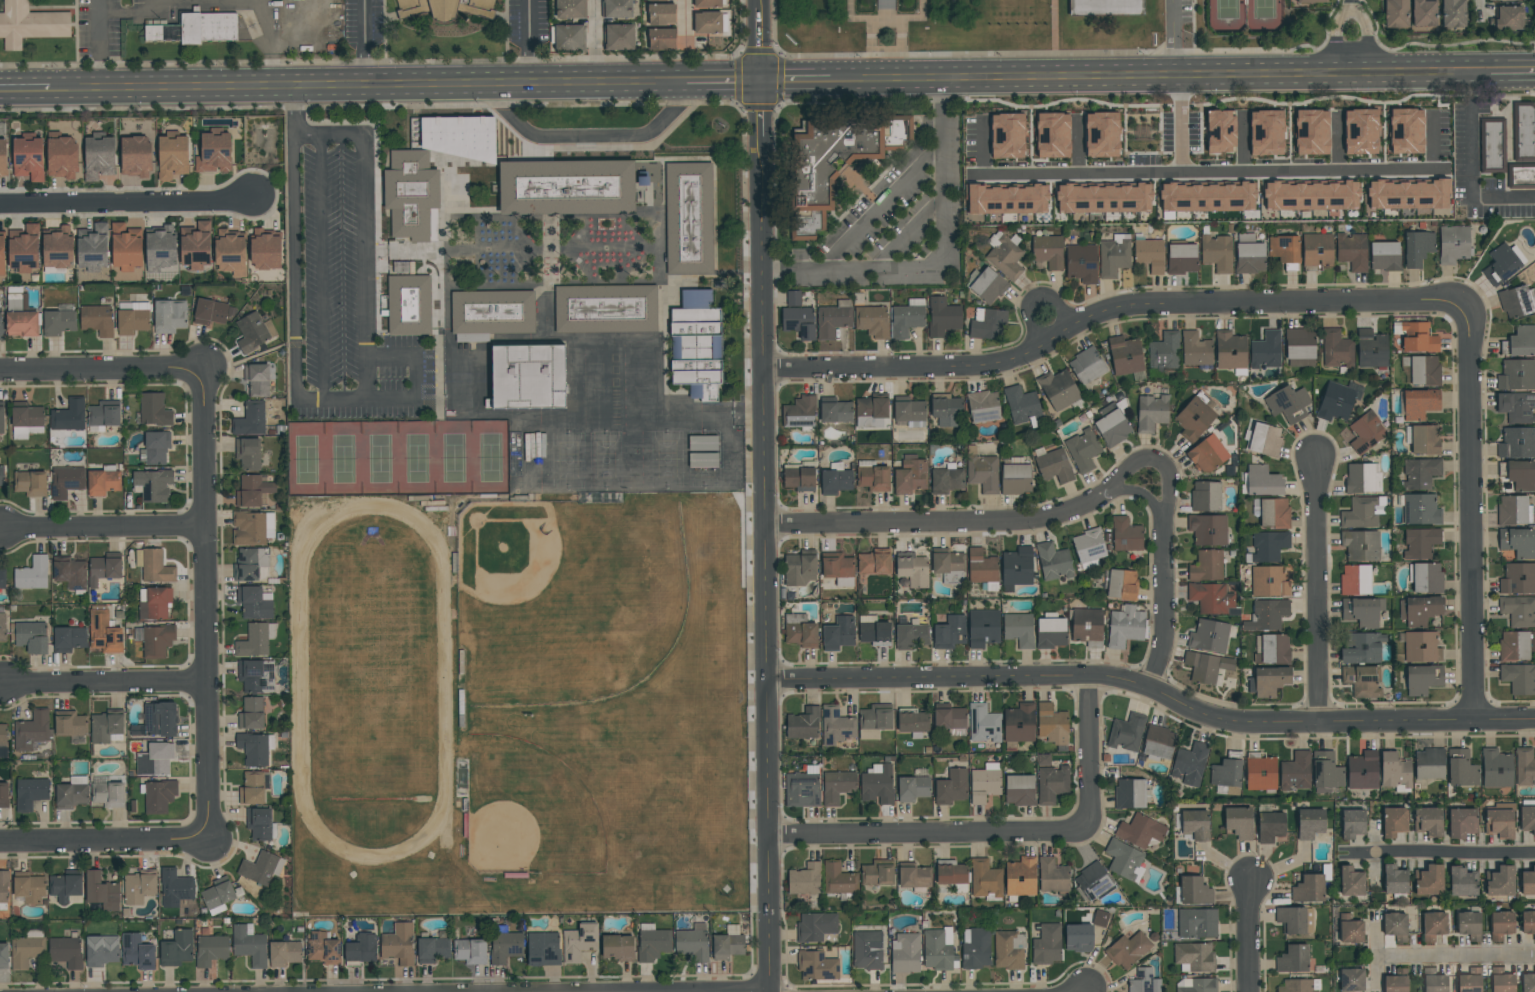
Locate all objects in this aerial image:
building: (660, 0)
building: (1511, 0)
building: (1312, 1)
road: (1353, 2)
building: (707, 4)
building: (571, 9)
building: (446, 10)
building: (1106, 10)
road: (1481, 10)
road: (133, 13)
building: (1424, 13)
building: (1396, 14)
building: (1454, 14)
park: (1246, 16)
building: (1509, 18)
road: (886, 21)
building: (708, 22)
road: (262, 23)
road: (686, 23)
building: (619, 24)
building: (30, 27)
building: (661, 27)
road: (1055, 30)
parking lot: (1180, 30)
building: (196, 32)
building: (568, 35)
road: (1337, 37)
road: (1368, 37)
road: (1174, 38)
road: (594, 41)
road: (872, 41)
road: (902, 41)
road: (363, 42)
road: (528, 42)
road: (98, 43)
road: (270, 53)
road: (1512, 71)
road: (273, 74)
road: (1161, 76)
road: (796, 80)
road: (722, 81)
road: (353, 86)
road: (11, 88)
road: (294, 112)
road: (1180, 123)
building: (1406, 128)
building: (1221, 129)
building: (1361, 129)
building: (1266, 130)
building: (1311, 130)
building: (1102, 132)
building: (1523, 132)
building: (1007, 133)
building: (1053, 133)
building: (1141, 133)
road: (591, 138)
road: (1430, 138)
road: (1242, 139)
road: (1336, 139)
road: (1077, 143)
road: (983, 144)
building: (1492, 145)
building: (214, 150)
building: (135, 154)
building: (28, 155)
building: (61, 155)
building: (99, 155)
building: (172, 155)
building: (3, 156)
road: (1470, 167)
road: (1206, 170)
building: (1521, 178)
building: (813, 180)
building: (566, 189)
building: (1407, 192)
building: (1311, 193)
building: (1207, 195)
building: (411, 196)
building: (1008, 197)
building: (1104, 197)
road: (125, 202)
road: (880, 205)
building: (690, 222)
road: (902, 227)
building: (1453, 244)
building: (93, 245)
building: (196, 245)
building: (125, 246)
building: (161, 246)
building: (57, 247)
building: (1284, 247)
building: (1418, 247)
building: (24, 248)
building: (265, 249)
building: (2, 251)
building: (1317, 251)
building: (1352, 251)
building: (230, 252)
building: (1047, 252)
building: (1217, 252)
building: (1519, 253)
building: (1149, 254)
building: (1384, 255)
building: (1005, 256)
building: (1114, 256)
building: (1182, 257)
building: (1249, 257)
road: (939, 262)
building: (1081, 263)
building: (1500, 265)
building: (403, 266)
road: (324, 270)
building: (986, 285)
parking lot: (343, 291)
building: (793, 298)
road: (1039, 299)
building: (1515, 302)
building: (409, 308)
road: (1105, 310)
building: (210, 312)
building: (606, 312)
building: (169, 316)
building: (491, 316)
building: (943, 316)
building: (132, 317)
building: (834, 318)
building: (907, 318)
building: (59, 320)
building: (97, 320)
building: (872, 320)
building: (799, 321)
building: (0, 323)
building: (22, 323)
building: (987, 324)
building: (254, 331)
building: (1417, 337)
building: (1519, 342)
building: (1299, 344)
building: (698, 347)
building: (1371, 348)
building: (1195, 349)
building: (1337, 349)
building: (1266, 350)
building: (1164, 351)
building: (1230, 351)
building: (1125, 356)
road: (258, 359)
building: (1086, 366)
road: (104, 370)
building: (1424, 370)
building: (1517, 375)
building: (257, 379)
building: (527, 379)
road: (416, 380)
building: (1061, 391)
building: (1335, 402)
road: (365, 403)
building: (1420, 403)
building: (1288, 404)
building: (1021, 405)
building: (983, 406)
building: (1516, 408)
building: (154, 409)
building: (835, 410)
building: (946, 410)
building: (871, 411)
building: (909, 412)
building: (1151, 412)
building: (104, 413)
building: (799, 413)
building: (69, 415)
building: (1, 419)
building: (250, 420)
building: (27, 421)
building: (1112, 428)
building: (1366, 432)
building: (1425, 439)
building: (1263, 440)
building: (703, 442)
building: (1517, 443)
building: (156, 447)
building: (1083, 450)
building: (248, 453)
building: (1207, 454)
road: (1145, 459)
park: (400, 460)
building: (703, 460)
park: (637, 461)
building: (1053, 465)
building: (983, 473)
building: (1420, 473)
building: (1520, 474)
building: (1, 475)
building: (911, 475)
building: (874, 476)
building: (798, 477)
building: (1016, 478)
building: (836, 479)
building: (947, 480)
building: (66, 481)
building: (1263, 481)
building: (103, 482)
building: (31, 483)
building: (153, 484)
building: (253, 491)
road: (1144, 494)
road: (763, 496)
building: (1206, 496)
building: (1421, 510)
building: (1512, 510)
building: (1274, 513)
building: (1360, 513)
road: (1471, 515)
road: (929, 521)
road: (1166, 527)
building: (253, 528)
road: (103, 529)
building: (1208, 530)
building: (1126, 534)
building: (1518, 541)
building: (1420, 543)
building: (1361, 545)
building: (1269, 546)
building: (1089, 548)
building: (874, 562)
building: (947, 562)
building: (1053, 562)
building: (251, 564)
building: (837, 565)
building: (155, 566)
building: (981, 566)
building: (1017, 566)
building: (1207, 566)
building: (104, 569)
building: (912, 569)
building: (32, 573)
building: (70, 574)
building: (1427, 577)
building: (1518, 578)
building: (2, 579)
building: (1355, 580)
building: (1269, 581)
building: (1122, 584)
road: (1318, 591)
building: (1211, 598)
building: (154, 602)
building: (254, 602)
road: (205, 603)
park: (555, 606)
building: (1419, 609)
building: (1518, 610)
building: (1361, 611)
building: (1267, 615)
road: (1165, 617)
building: (2, 624)
building: (1125, 626)
building: (983, 628)
building: (1019, 629)
building: (800, 630)
building: (874, 630)
building: (104, 631)
building: (949, 631)
building: (1051, 632)
building: (838, 633)
building: (910, 635)
building: (1209, 636)
building: (31, 637)
building: (69, 638)
building: (256, 640)
building: (157, 641)
building: (1514, 646)
building: (1422, 647)
building: (1275, 648)
building: (1360, 648)
building: (1206, 667)
building: (256, 675)
building: (1518, 678)
building: (1423, 679)
building: (1270, 680)
building: (1362, 680)
track: (373, 684)
road: (105, 685)
road: (1153, 690)
building: (251, 713)
building: (949, 718)
building: (157, 720)
building: (875, 721)
building: (912, 721)
building: (803, 723)
building: (984, 723)
building: (1019, 723)
building: (70, 724)
building: (1052, 724)
building: (836, 726)
building: (105, 727)
building: (31, 731)
building: (1126, 734)
building: (1159, 742)
building: (255, 748)
building: (156, 759)
building: (1189, 764)
building: (1429, 764)
building: (1525, 766)
building: (1461, 768)
building: (1496, 768)
building: (1362, 770)
building: (1296, 771)
building: (1260, 772)
building: (1326, 772)
building: (1395, 772)
building: (1226, 773)
building: (1050, 781)
building: (985, 783)
building: (877, 784)
building: (837, 786)
building: (951, 787)
building: (802, 788)
building: (913, 788)
building: (252, 789)
building: (1019, 790)
building: (30, 793)
building: (1130, 794)
building: (4, 795)
building: (71, 795)
road: (303, 795)
building: (159, 796)
road: (446, 818)
building: (1527, 819)
building: (1394, 821)
building: (1427, 821)
building: (1238, 822)
building: (1461, 822)
building: (259, 823)
building: (1310, 823)
building: (1352, 823)
building: (1499, 823)
building: (1195, 824)
building: (1270, 826)
building: (1140, 831)
road: (1003, 833)
road: (106, 841)
road: (1443, 853)
building: (1123, 859)
building: (261, 868)
building: (878, 873)
building: (951, 874)
building: (915, 876)
building: (1052, 876)
building: (1021, 877)
building: (805, 879)
building: (839, 879)
building: (985, 879)
building: (1394, 879)
building: (1429, 880)
building: (1351, 881)
building: (1500, 881)
building: (1094, 882)
building: (1462, 882)
building: (1528, 882)
building: (4, 886)
building: (65, 886)
building: (138, 888)
building: (175, 888)
building: (1309, 888)
building: (29, 889)
building: (1194, 890)
building: (101, 891)
building: (218, 895)
building: (1291, 919)
building: (1197, 923)
building: (1528, 923)
building: (1433, 925)
building: (1469, 925)
building: (1501, 925)
building: (816, 926)
building: (1395, 927)
building: (1350, 930)
road: (1249, 935)
building: (1078, 937)
building: (579, 942)
building: (398, 944)
building: (653, 944)
building: (692, 944)
building: (249, 945)
building: (1047, 945)
building: (505, 946)
building: (727, 946)
building: (617, 947)
building: (27, 948)
building: (322, 948)
building: (976, 948)
building: (176, 949)
building: (360, 949)
building: (432, 949)
building: (543, 949)
building: (101, 950)
building: (211, 950)
building: (867, 950)
building: (937, 950)
building: (1009, 950)
building: (1128, 950)
building: (470, 951)
building: (66, 952)
building: (137, 952)
building: (284, 953)
building: (905, 953)
building: (4, 955)
building: (1194, 957)
road: (1457, 957)
building: (1293, 959)
building: (817, 966)
building: (1352, 979)
building: (1396, 981)
building: (1434, 981)
building: (1470, 981)
building: (1501, 981)
building: (1144, 982)
building: (1528, 982)
building: (1196, 985)
building: (1300, 985)

